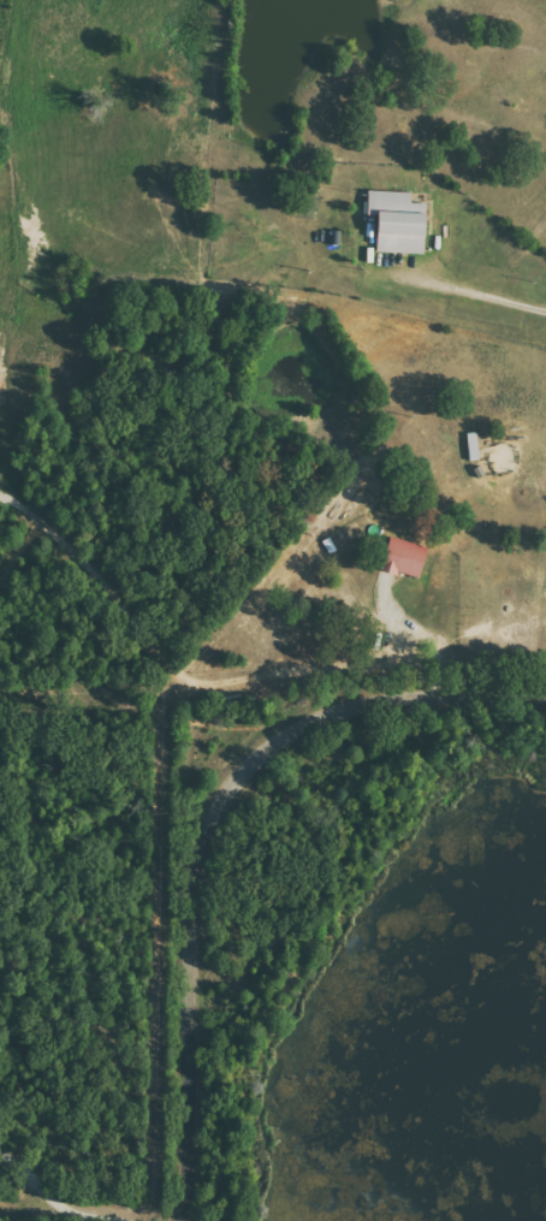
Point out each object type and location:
building: (400, 221)
road: (473, 286)
building: (405, 557)
road: (207, 826)
road: (58, 1203)

